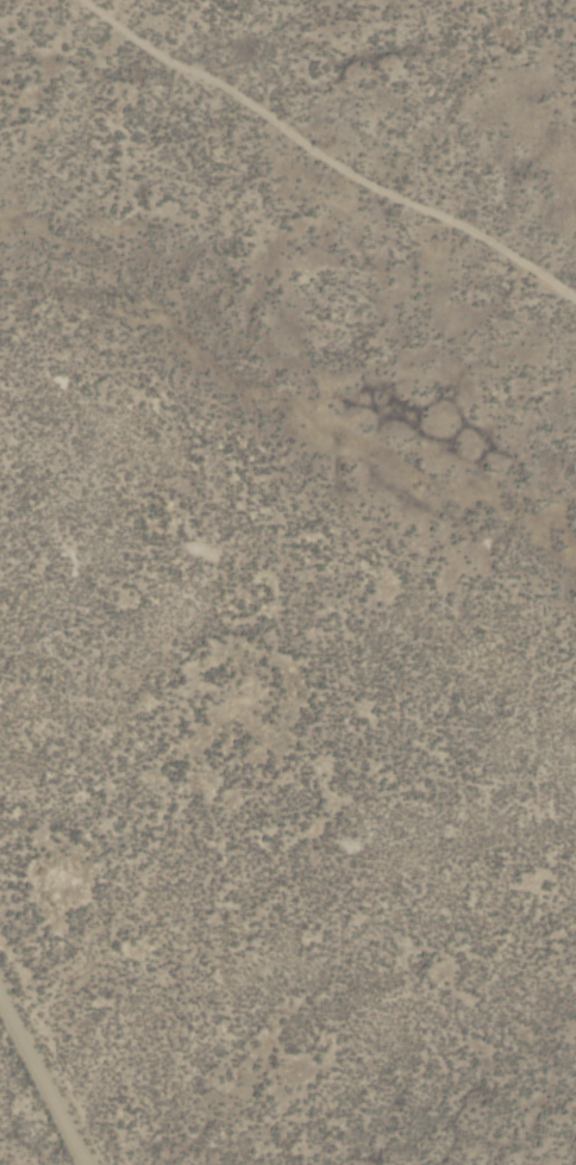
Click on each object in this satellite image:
road: (326, 156)
road: (43, 1079)

